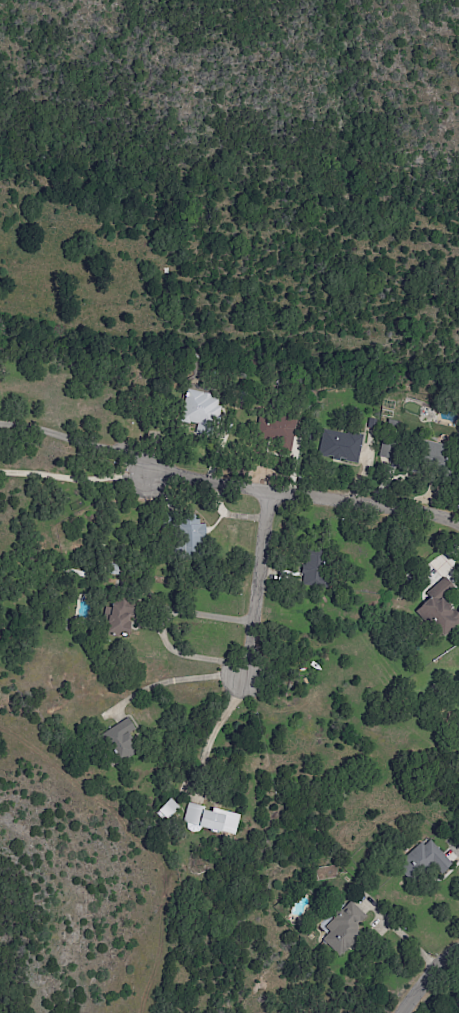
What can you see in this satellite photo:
building: (198, 409)
building: (278, 431)
road: (75, 440)
building: (340, 445)
road: (71, 480)
road: (300, 500)
building: (195, 533)
building: (312, 567)
road: (254, 585)
building: (440, 611)
building: (122, 617)
road: (178, 679)
road: (217, 724)
building: (123, 739)
building: (210, 820)
building: (428, 857)
building: (345, 927)
road: (402, 936)
road: (426, 980)

